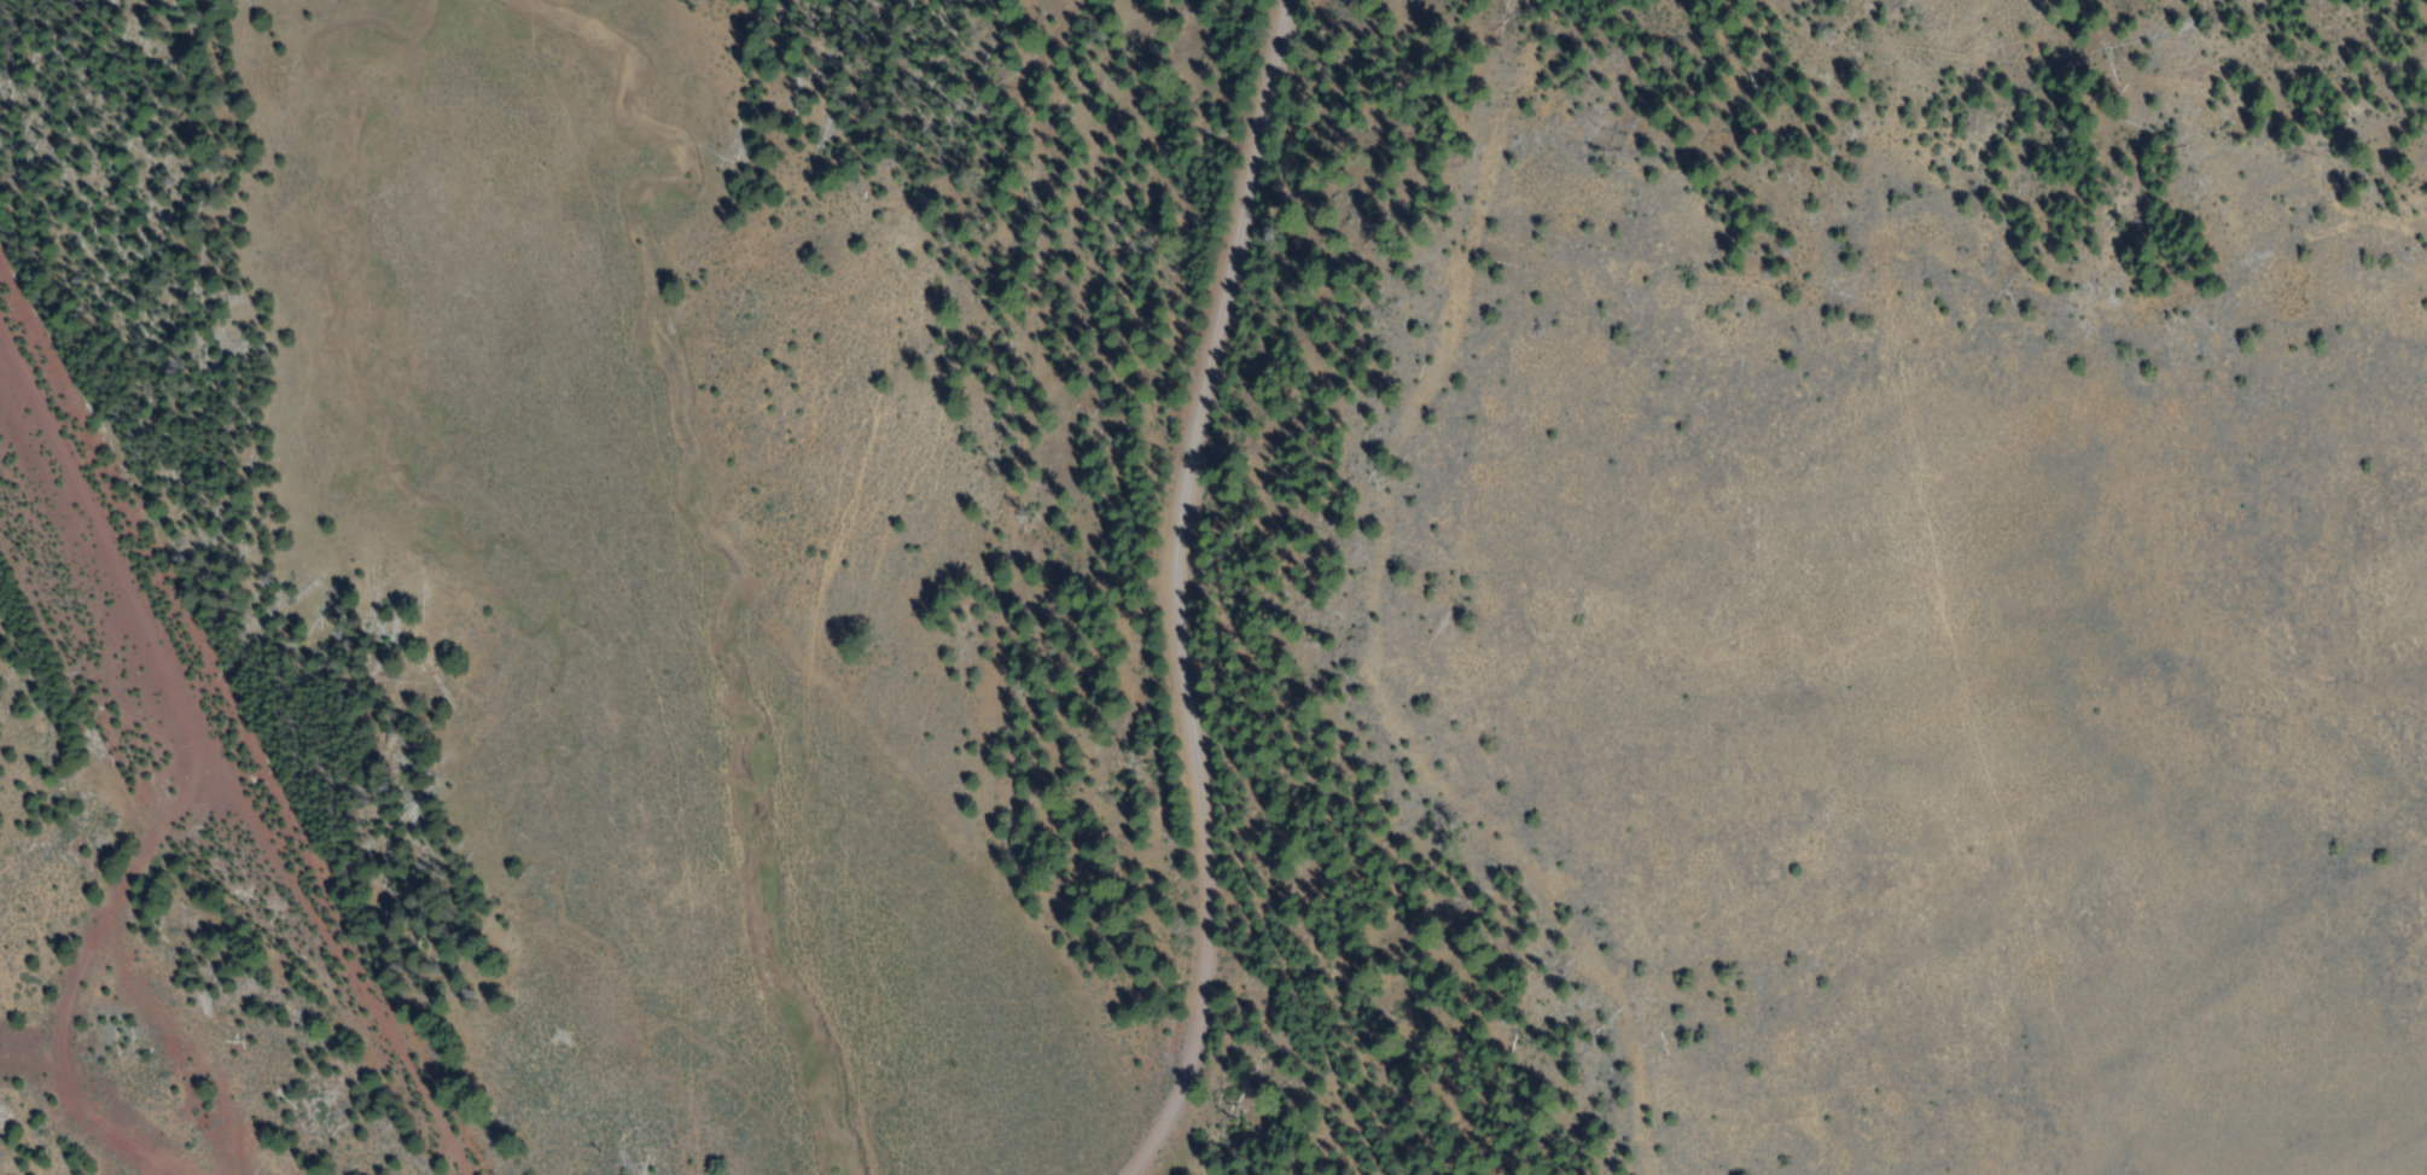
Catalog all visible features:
road: (1901, 121)
road: (1171, 593)
road: (225, 751)

